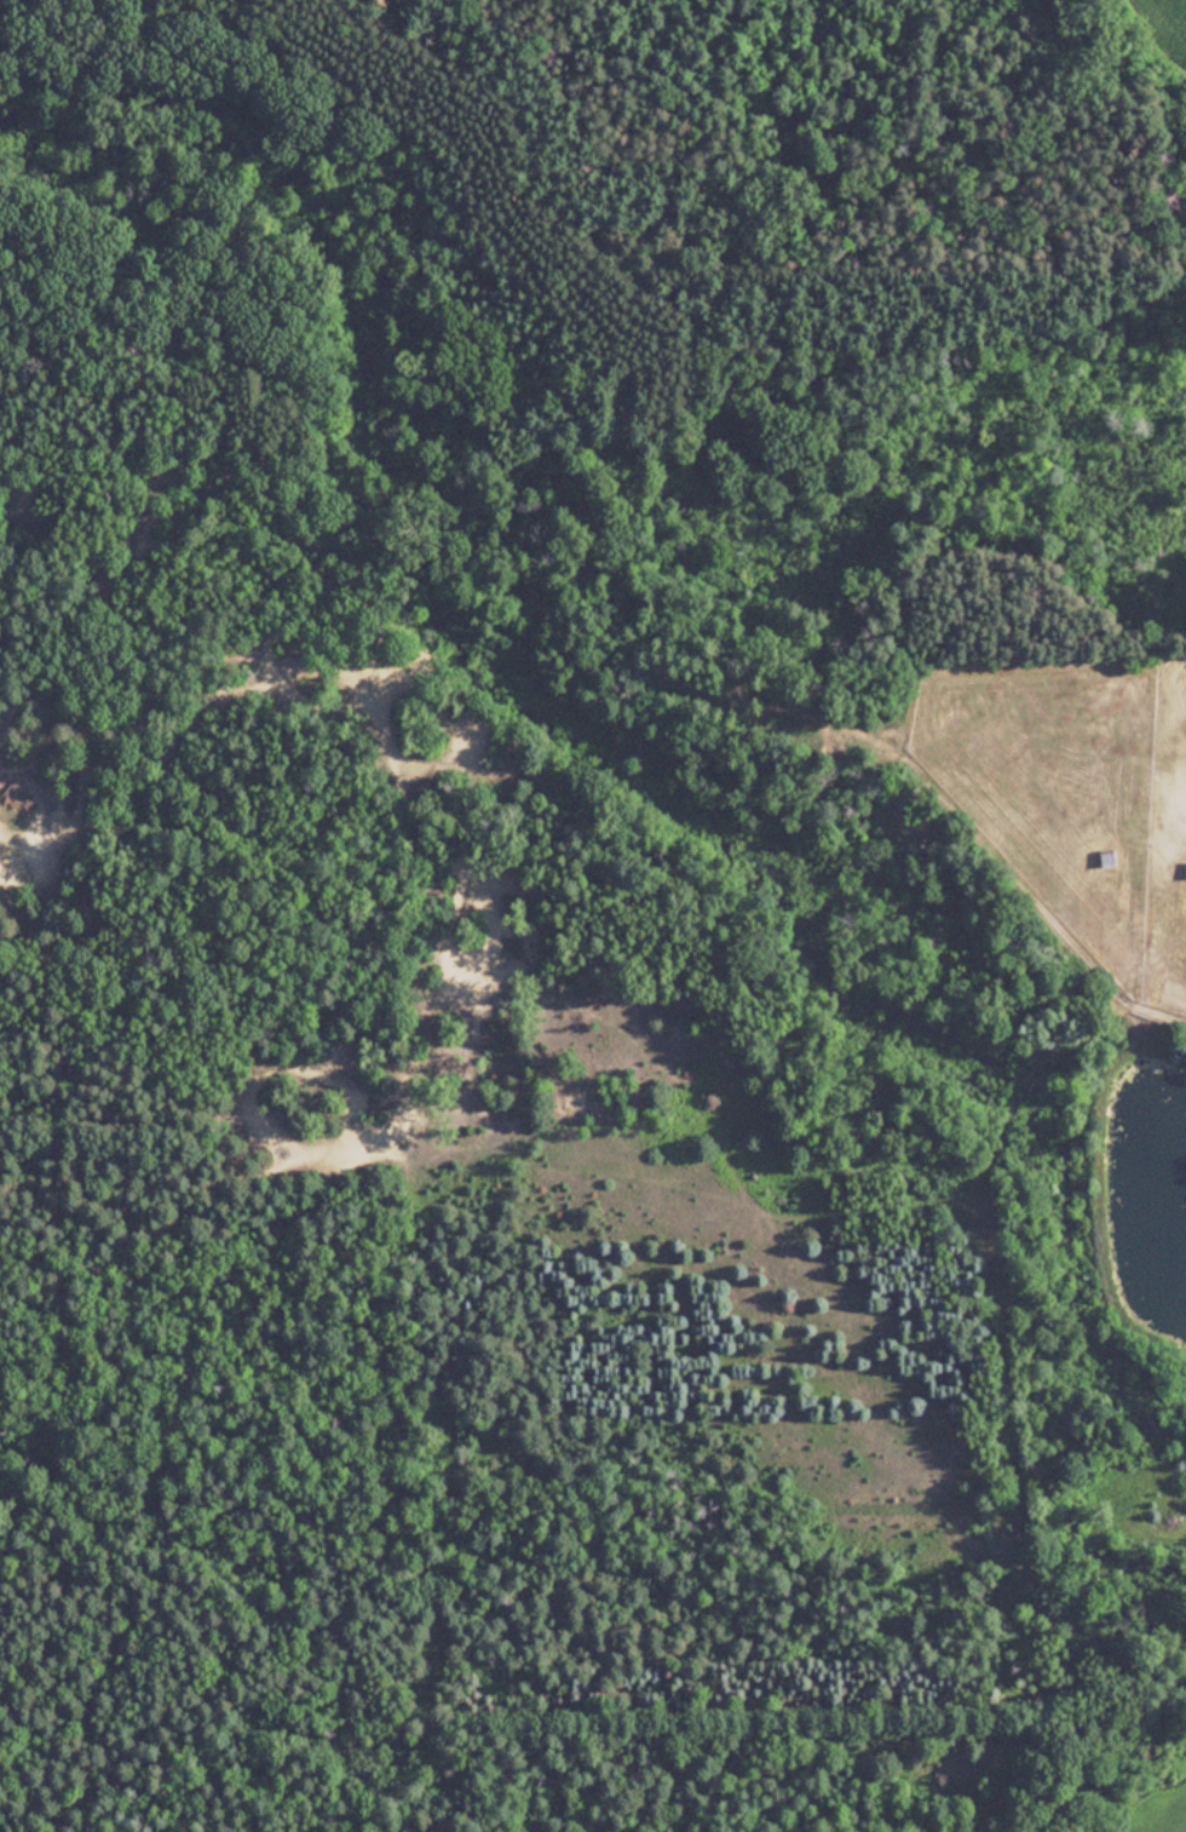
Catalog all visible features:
building: (1107, 856)

